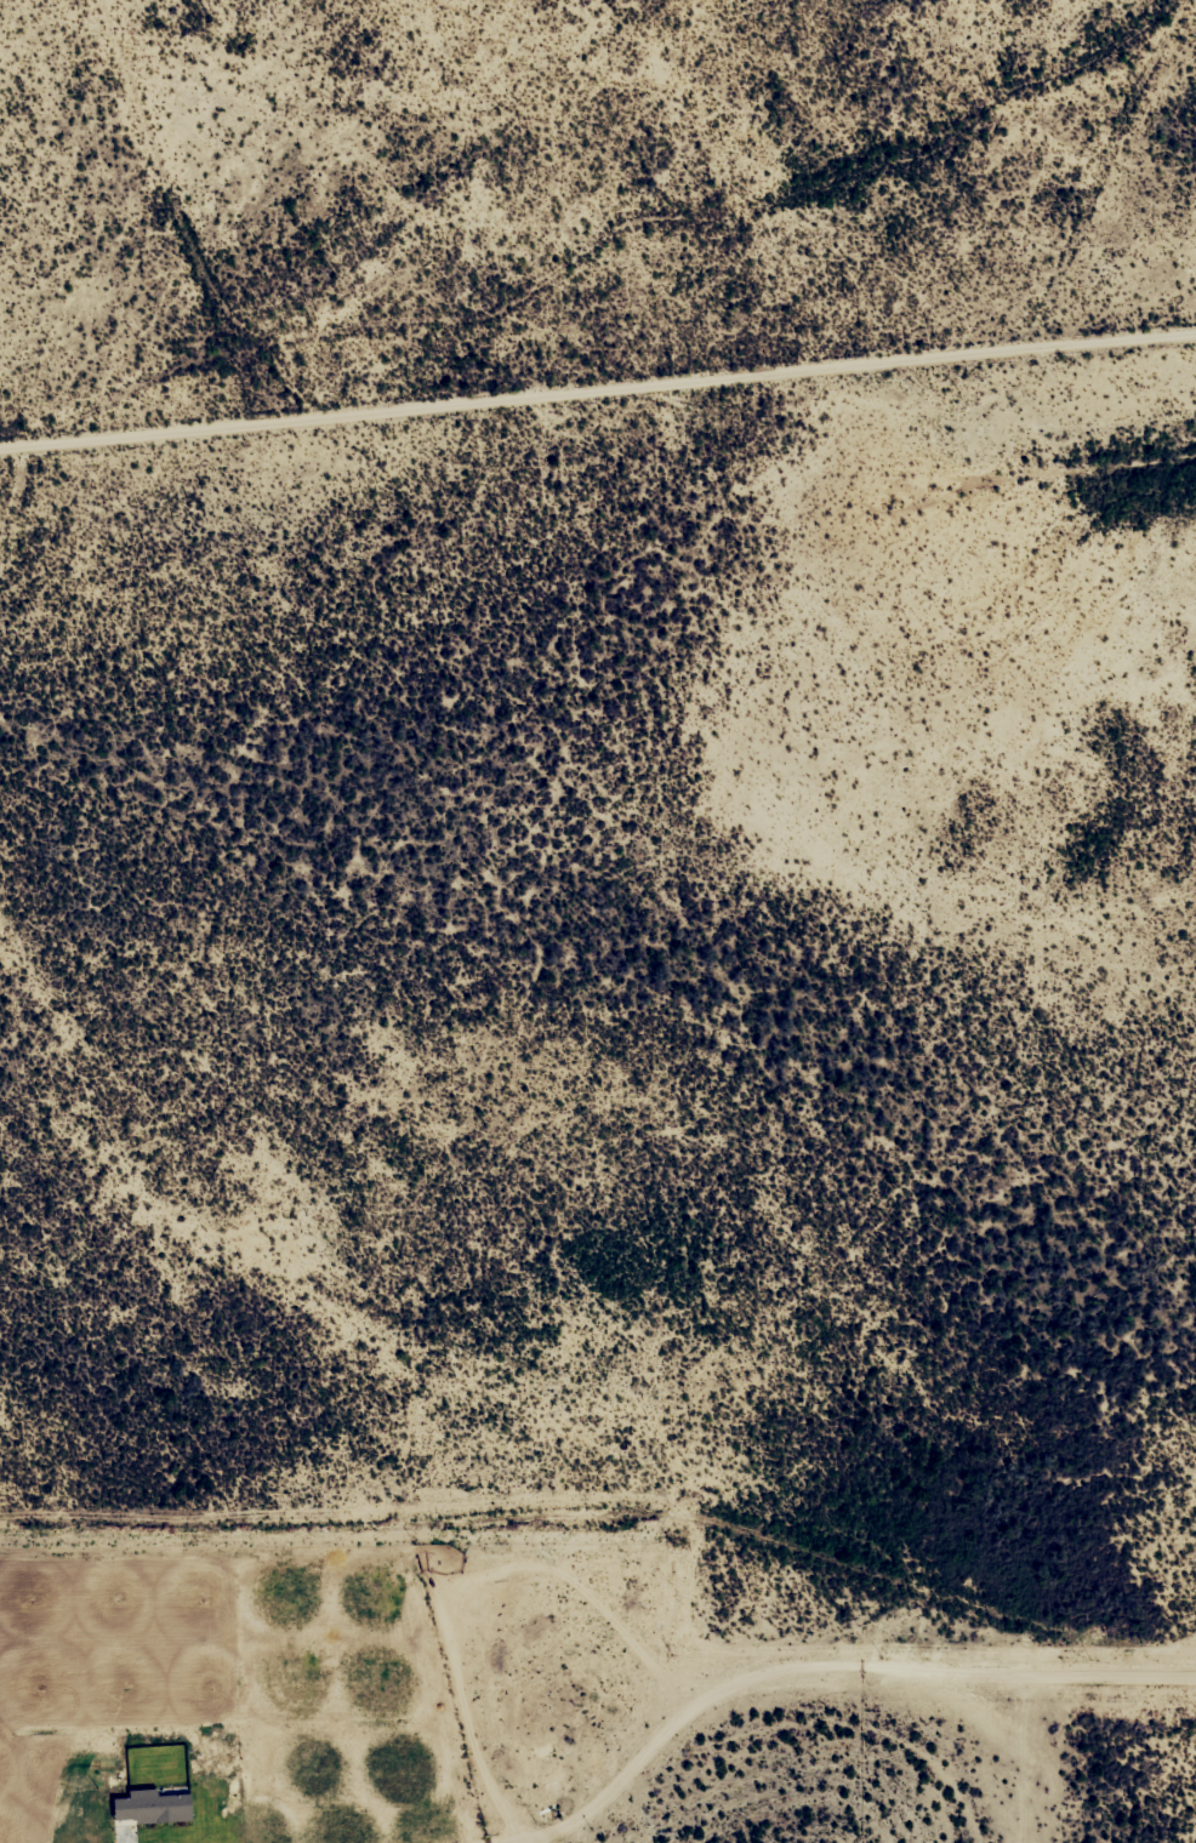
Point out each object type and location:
road: (1064, 161)
road: (198, 209)
road: (597, 388)
road: (828, 1691)

